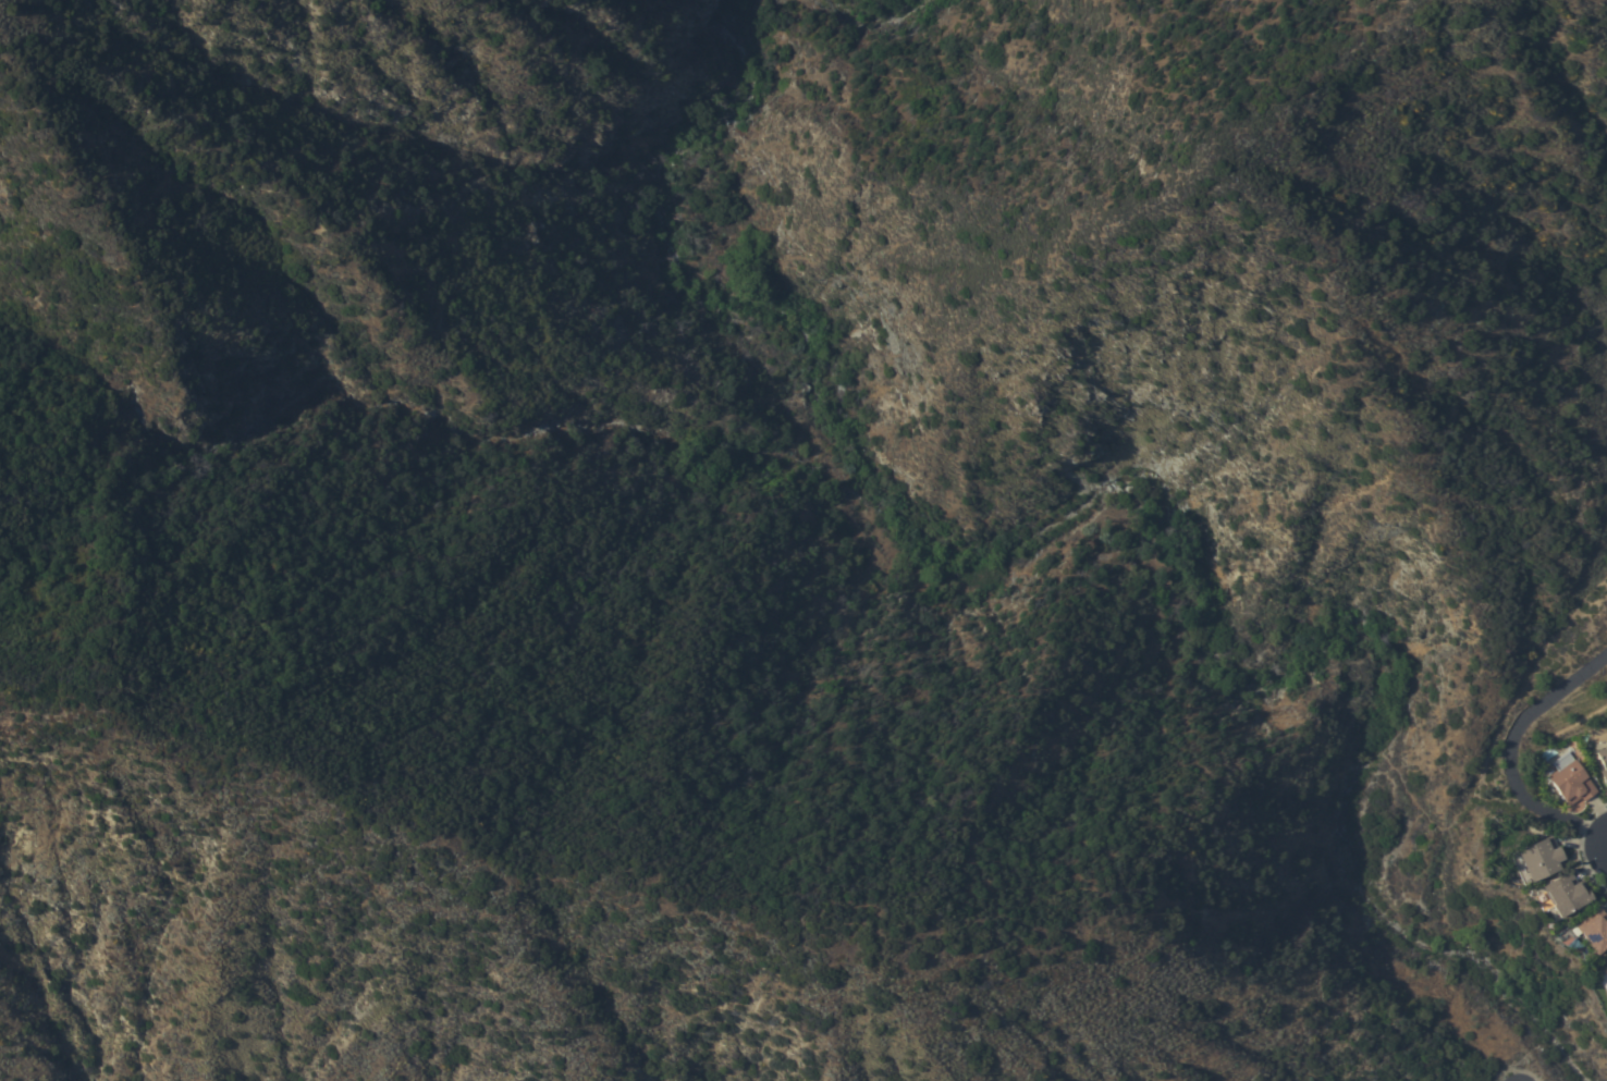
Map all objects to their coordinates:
road: (1502, 737)
building: (1603, 763)
building: (1570, 779)
road: (1588, 843)
building: (1536, 860)
building: (1566, 894)
building: (1594, 931)
building: (1605, 973)

